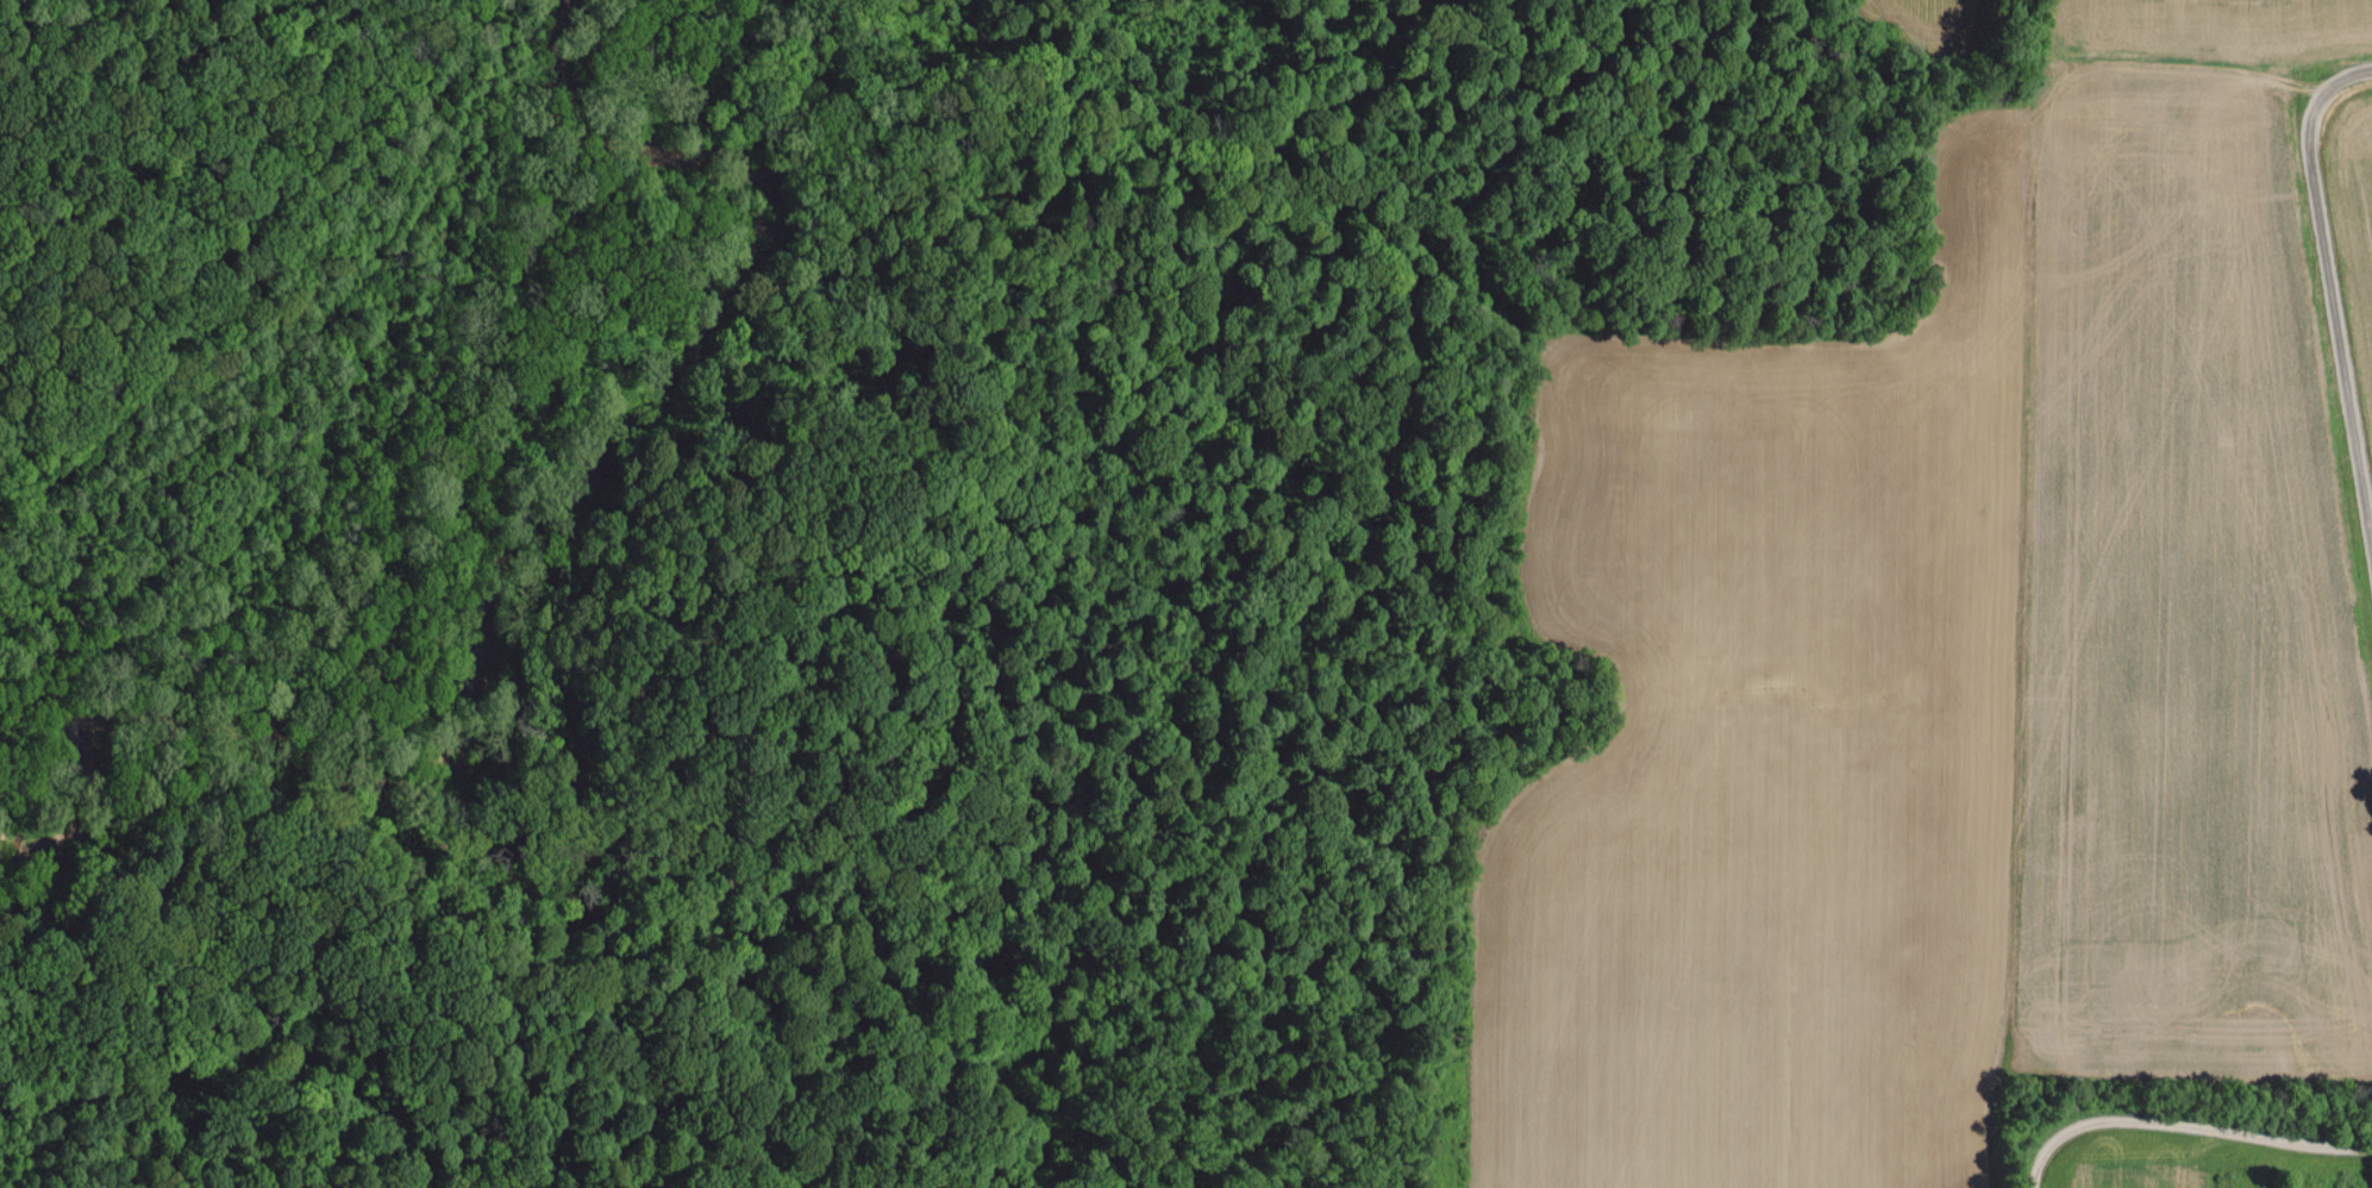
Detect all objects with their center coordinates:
road: (2333, 282)
road: (2185, 1123)

